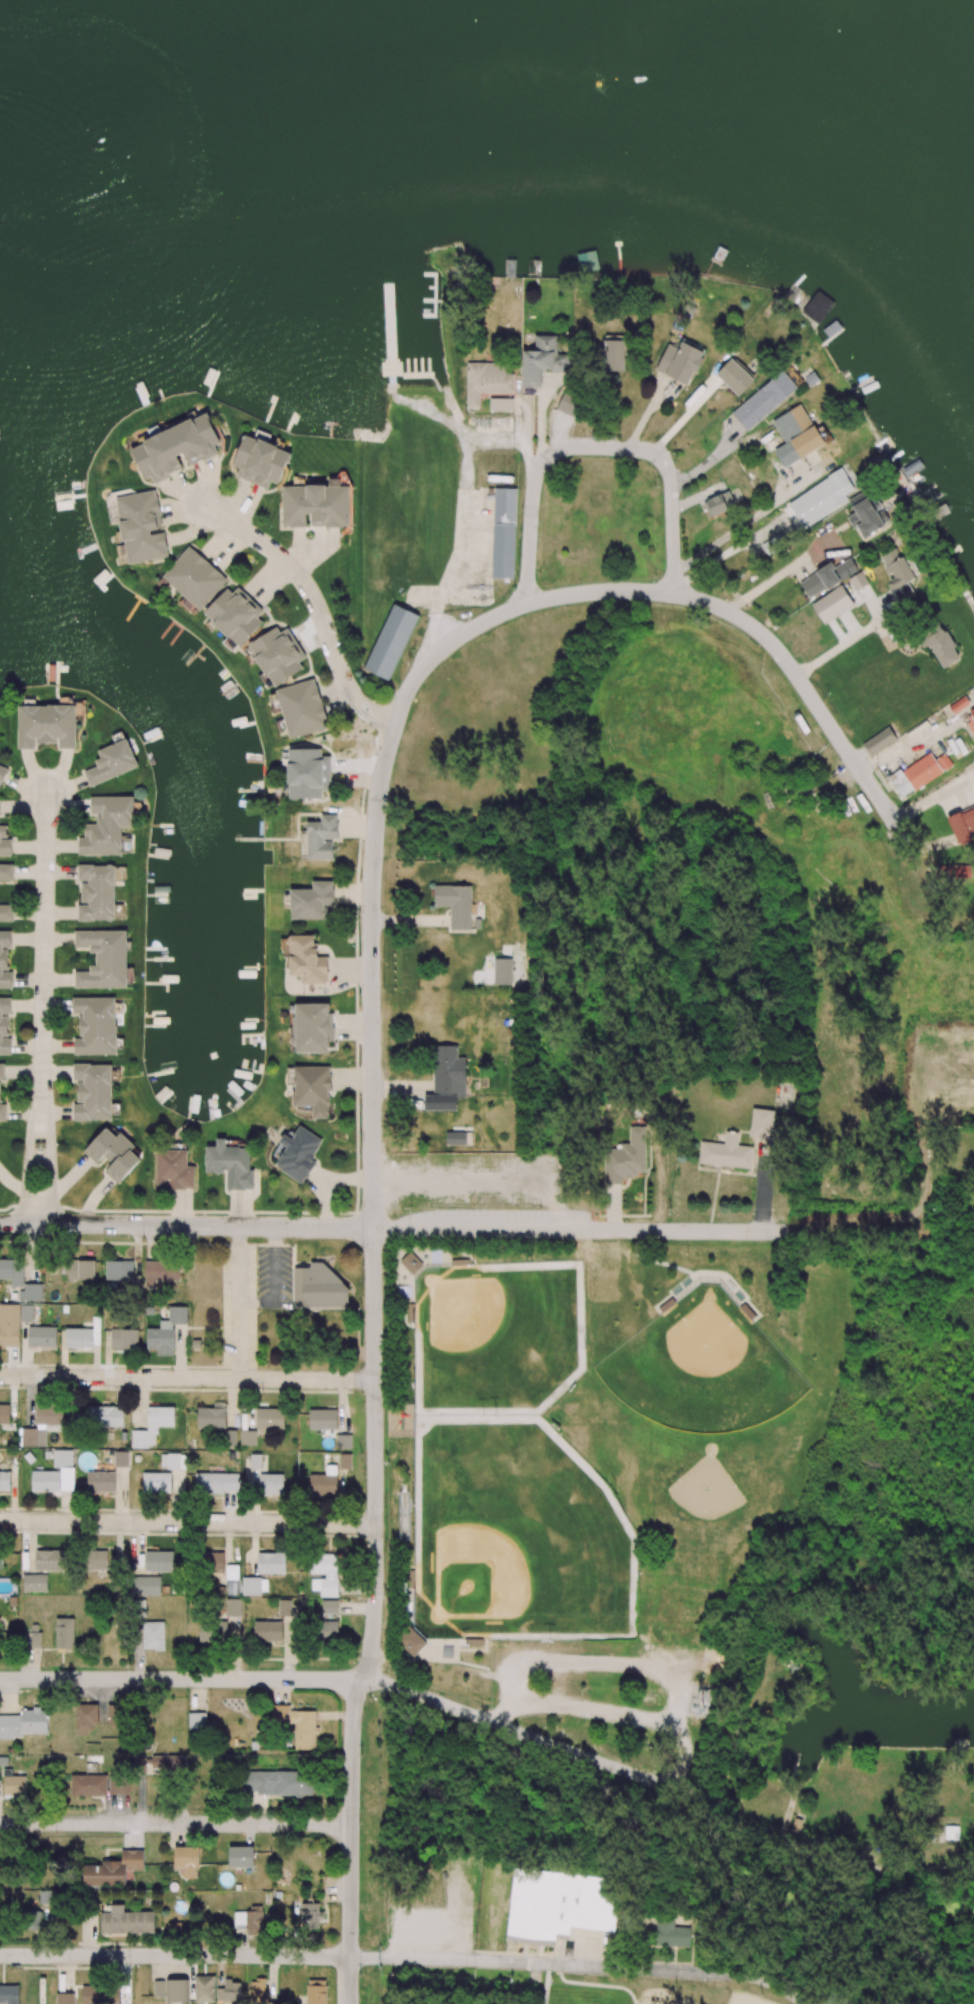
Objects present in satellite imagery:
park: (185, 150)
park: (891, 230)
building: (817, 307)
building: (613, 353)
building: (542, 360)
building: (680, 362)
building: (734, 377)
building: (487, 381)
building: (767, 398)
building: (571, 403)
building: (801, 430)
road: (506, 439)
road: (598, 447)
building: (175, 448)
road: (717, 452)
building: (883, 461)
building: (260, 462)
building: (821, 498)
building: (720, 503)
building: (316, 506)
road: (757, 513)
building: (867, 513)
building: (141, 527)
road: (458, 527)
building: (504, 533)
building: (890, 555)
building: (900, 576)
building: (827, 577)
road: (768, 580)
building: (858, 580)
building: (213, 595)
road: (696, 598)
road: (316, 602)
building: (832, 604)
road: (431, 631)
road: (848, 641)
building: (391, 642)
building: (941, 647)
building: (278, 655)
building: (302, 708)
building: (971, 722)
building: (46, 725)
building: (879, 741)
building: (112, 762)
building: (2, 772)
building: (308, 773)
building: (919, 773)
road: (933, 797)
building: (963, 824)
building: (107, 825)
building: (321, 837)
building: (4, 842)
building: (952, 871)
building: (6, 873)
building: (96, 892)
building: (312, 901)
building: (455, 904)
building: (6, 910)
road: (45, 942)
building: (103, 959)
building: (5, 960)
building: (307, 960)
building: (503, 972)
building: (96, 1025)
building: (4, 1026)
building: (313, 1027)
building: (448, 1073)
building: (312, 1089)
building: (0, 1092)
building: (93, 1092)
building: (762, 1124)
building: (458, 1136)
building: (726, 1152)
building: (296, 1153)
road: (30, 1154)
building: (113, 1154)
road: (52, 1155)
building: (626, 1157)
building: (230, 1164)
building: (174, 1170)
park: (479, 1180)
road: (394, 1227)
building: (411, 1263)
building: (81, 1269)
building: (119, 1270)
building: (12, 1271)
building: (160, 1272)
building: (318, 1287)
building: (31, 1292)
road: (240, 1302)
building: (26, 1313)
building: (9, 1325)
building: (166, 1331)
building: (42, 1336)
park: (497, 1337)
building: (79, 1338)
building: (124, 1338)
road: (374, 1341)
park: (703, 1369)
road: (187, 1378)
building: (4, 1414)
building: (105, 1416)
building: (212, 1416)
building: (270, 1419)
building: (323, 1420)
building: (153, 1426)
building: (230, 1438)
building: (248, 1438)
building: (173, 1461)
building: (255, 1461)
building: (345, 1461)
park: (637, 1471)
building: (55, 1474)
building: (100, 1482)
building: (156, 1482)
building: (216, 1483)
building: (271, 1484)
building: (323, 1485)
road: (188, 1522)
park: (517, 1535)
building: (95, 1559)
building: (159, 1561)
building: (211, 1562)
building: (271, 1563)
building: (42, 1569)
building: (325, 1574)
building: (232, 1580)
building: (146, 1586)
building: (255, 1586)
building: (233, 1607)
building: (329, 1607)
building: (286, 1608)
building: (328, 1630)
building: (268, 1631)
building: (211, 1632)
building: (64, 1633)
building: (153, 1636)
building: (36, 1640)
building: (411, 1641)
road: (181, 1679)
building: (86, 1719)
building: (197, 1721)
building: (23, 1724)
building: (297, 1725)
road: (507, 1728)
building: (168, 1762)
building: (278, 1782)
building: (88, 1785)
building: (119, 1785)
road: (175, 1823)
road: (805, 1853)
building: (241, 1857)
building: (187, 1860)
building: (113, 1869)
building: (49, 1897)
park: (623, 1898)
building: (557, 1905)
building: (310, 1915)
building: (35, 1917)
building: (126, 1921)
building: (251, 1921)
building: (672, 1934)
road: (372, 1957)
road: (776, 1987)
building: (160, 1988)
building: (204, 1989)
building: (179, 1990)
building: (232, 1990)
building: (257, 1991)
building: (316, 1992)
building: (9, 1994)
building: (100, 1995)
building: (65, 1998)
park: (746, 1999)
park: (769, 2003)

